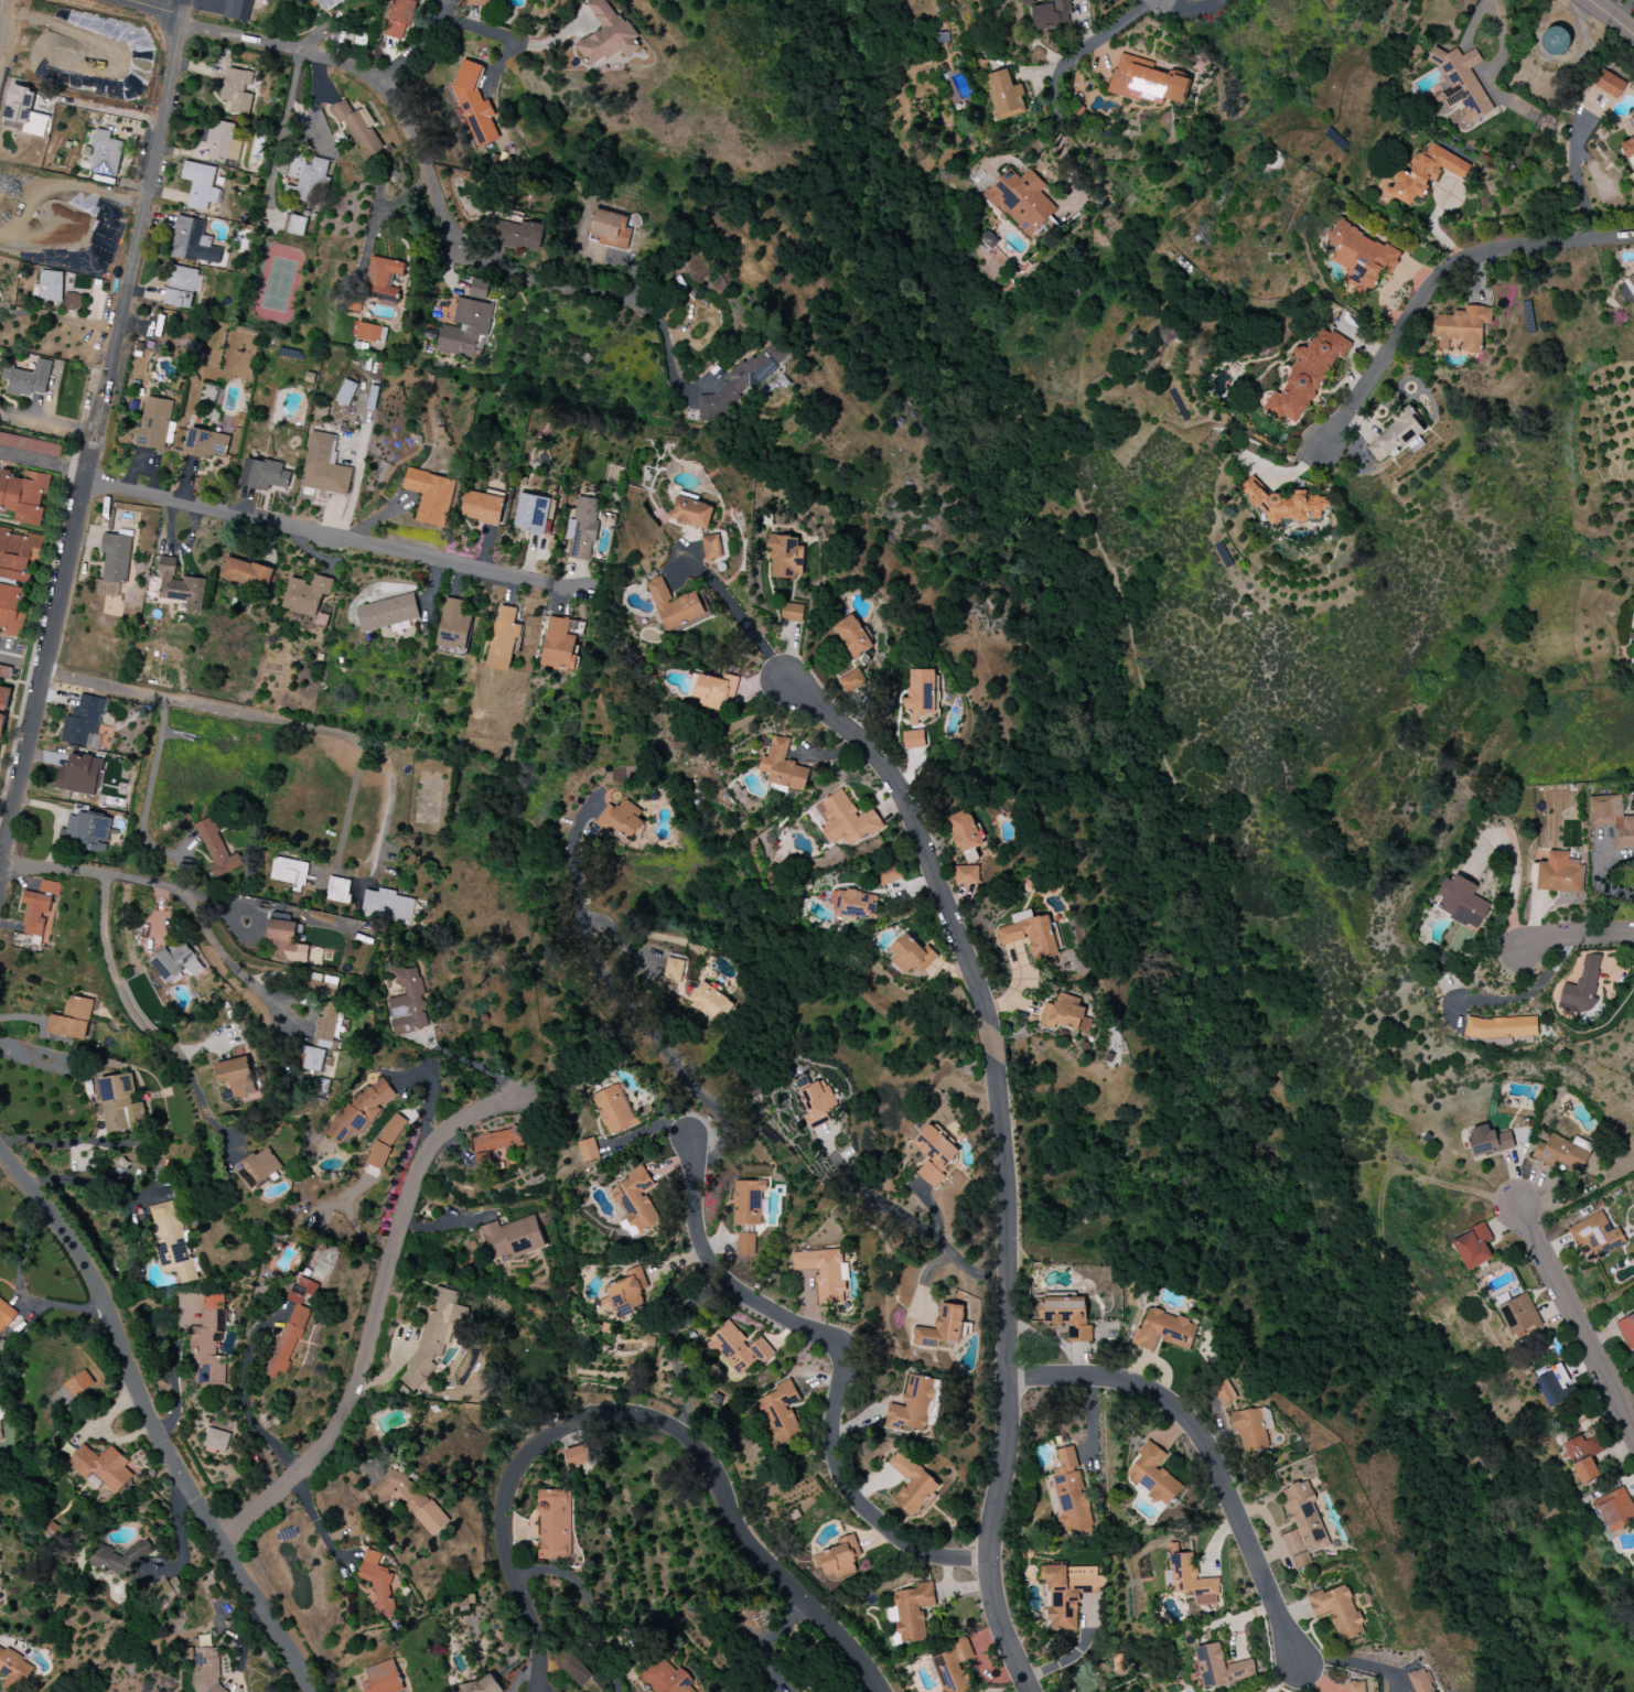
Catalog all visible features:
building: (479, 2)
building: (1026, 2)
building: (325, 3)
road: (160, 6)
road: (1609, 7)
building: (237, 10)
building: (1052, 14)
road: (1609, 17)
building: (400, 18)
building: (606, 34)
road: (517, 40)
road: (1499, 41)
building: (1555, 41)
road: (1093, 45)
road: (421, 46)
building: (1146, 82)
building: (1460, 84)
building: (1609, 84)
building: (236, 91)
building: (1006, 96)
building: (474, 105)
building: (23, 111)
building: (358, 128)
road: (281, 134)
building: (223, 141)
road: (419, 148)
building: (1627, 150)
building: (105, 154)
road: (1573, 173)
building: (1426, 174)
building: (305, 179)
building: (200, 185)
building: (1021, 201)
building: (295, 225)
building: (610, 229)
building: (518, 235)
building: (193, 241)
building: (1362, 257)
road: (1439, 278)
building: (381, 279)
building: (1630, 282)
building: (49, 285)
building: (183, 287)
building: (479, 288)
building: (72, 301)
road: (60, 317)
building: (464, 328)
building: (1461, 330)
building: (367, 332)
road: (667, 337)
building: (1305, 377)
building: (28, 379)
building: (742, 381)
building: (346, 392)
building: (154, 423)
road: (96, 435)
building: (1394, 437)
building: (30, 445)
building: (206, 445)
building: (324, 466)
road: (43, 467)
building: (264, 475)
building: (23, 495)
building: (430, 496)
building: (1284, 505)
building: (482, 507)
building: (691, 511)
building: (531, 514)
building: (582, 529)
road: (332, 535)
building: (711, 549)
building: (785, 557)
building: (247, 573)
building: (180, 586)
building: (307, 594)
building: (675, 605)
building: (12, 610)
building: (792, 612)
building: (387, 613)
road: (741, 618)
building: (453, 626)
building: (851, 636)
building: (504, 638)
building: (559, 645)
road: (11, 655)
building: (4, 672)
building: (851, 680)
building: (714, 690)
building: (921, 696)
road: (203, 704)
building: (3, 705)
building: (83, 720)
building: (913, 739)
building: (93, 742)
building: (783, 766)
building: (80, 775)
road: (149, 785)
road: (350, 805)
road: (389, 806)
building: (621, 819)
building: (1612, 819)
building: (845, 820)
building: (964, 831)
building: (86, 832)
road: (1214, 839)
building: (217, 849)
park: (1138, 861)
road: (0, 872)
building: (289, 873)
road: (1517, 873)
road: (0, 874)
building: (888, 875)
road: (125, 876)
building: (337, 890)
building: (1463, 903)
building: (854, 904)
building: (387, 906)
building: (39, 909)
building: (1031, 934)
road: (1574, 935)
building: (286, 940)
building: (911, 955)
building: (176, 962)
road: (235, 964)
building: (1581, 988)
road: (1530, 993)
building: (407, 1001)
road: (624, 1001)
building: (710, 1001)
building: (1064, 1014)
building: (73, 1019)
building: (327, 1026)
road: (143, 1027)
building: (1501, 1027)
building: (312, 1059)
road: (473, 1065)
building: (237, 1077)
building: (116, 1101)
building: (613, 1110)
building: (358, 1113)
building: (385, 1141)
building: (1487, 1141)
road: (53, 1145)
building: (496, 1147)
building: (588, 1150)
building: (934, 1154)
building: (1561, 1154)
road: (1002, 1158)
building: (257, 1168)
building: (637, 1198)
building: (748, 1203)
road: (922, 1231)
building: (1597, 1236)
building: (512, 1238)
building: (170, 1240)
building: (746, 1244)
building: (1473, 1247)
building: (824, 1273)
road: (20, 1292)
building: (626, 1293)
road: (370, 1314)
building: (1066, 1316)
building: (1519, 1316)
road: (1577, 1318)
building: (292, 1325)
building: (942, 1327)
building: (1164, 1330)
building: (1626, 1332)
building: (433, 1336)
building: (209, 1341)
building: (738, 1349)
road: (846, 1362)
building: (78, 1383)
building: (1552, 1386)
building: (1224, 1392)
road: (183, 1398)
road: (246, 1403)
building: (913, 1405)
building: (781, 1413)
road: (641, 1419)
building: (0, 1424)
road: (152, 1425)
building: (1253, 1429)
building: (216, 1440)
road: (1208, 1453)
building: (578, 1456)
building: (1583, 1457)
building: (101, 1467)
building: (1152, 1475)
building: (912, 1484)
building: (1071, 1494)
building: (408, 1499)
building: (1615, 1510)
road: (315, 1521)
building: (555, 1523)
building: (1302, 1524)
road: (179, 1538)
building: (841, 1558)
building: (119, 1561)
building: (1190, 1580)
building: (379, 1583)
building: (165, 1592)
road: (587, 1603)
building: (1337, 1610)
building: (911, 1612)
road: (781, 1643)
building: (959, 1652)
road: (1353, 1661)
building: (1221, 1667)
building: (13, 1670)
building: (574, 1670)
building: (948, 1672)
building: (665, 1675)
building: (383, 1678)
building: (1419, 1681)
building: (479, 1685)
building: (1356, 1686)

